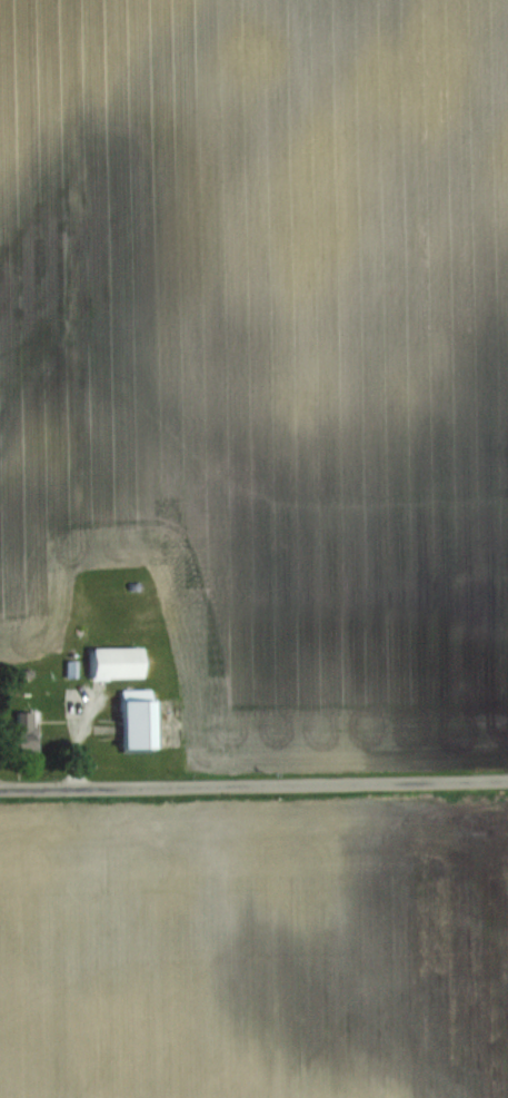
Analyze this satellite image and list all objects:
building: (116, 660)
building: (136, 716)
building: (24, 731)
road: (253, 782)

